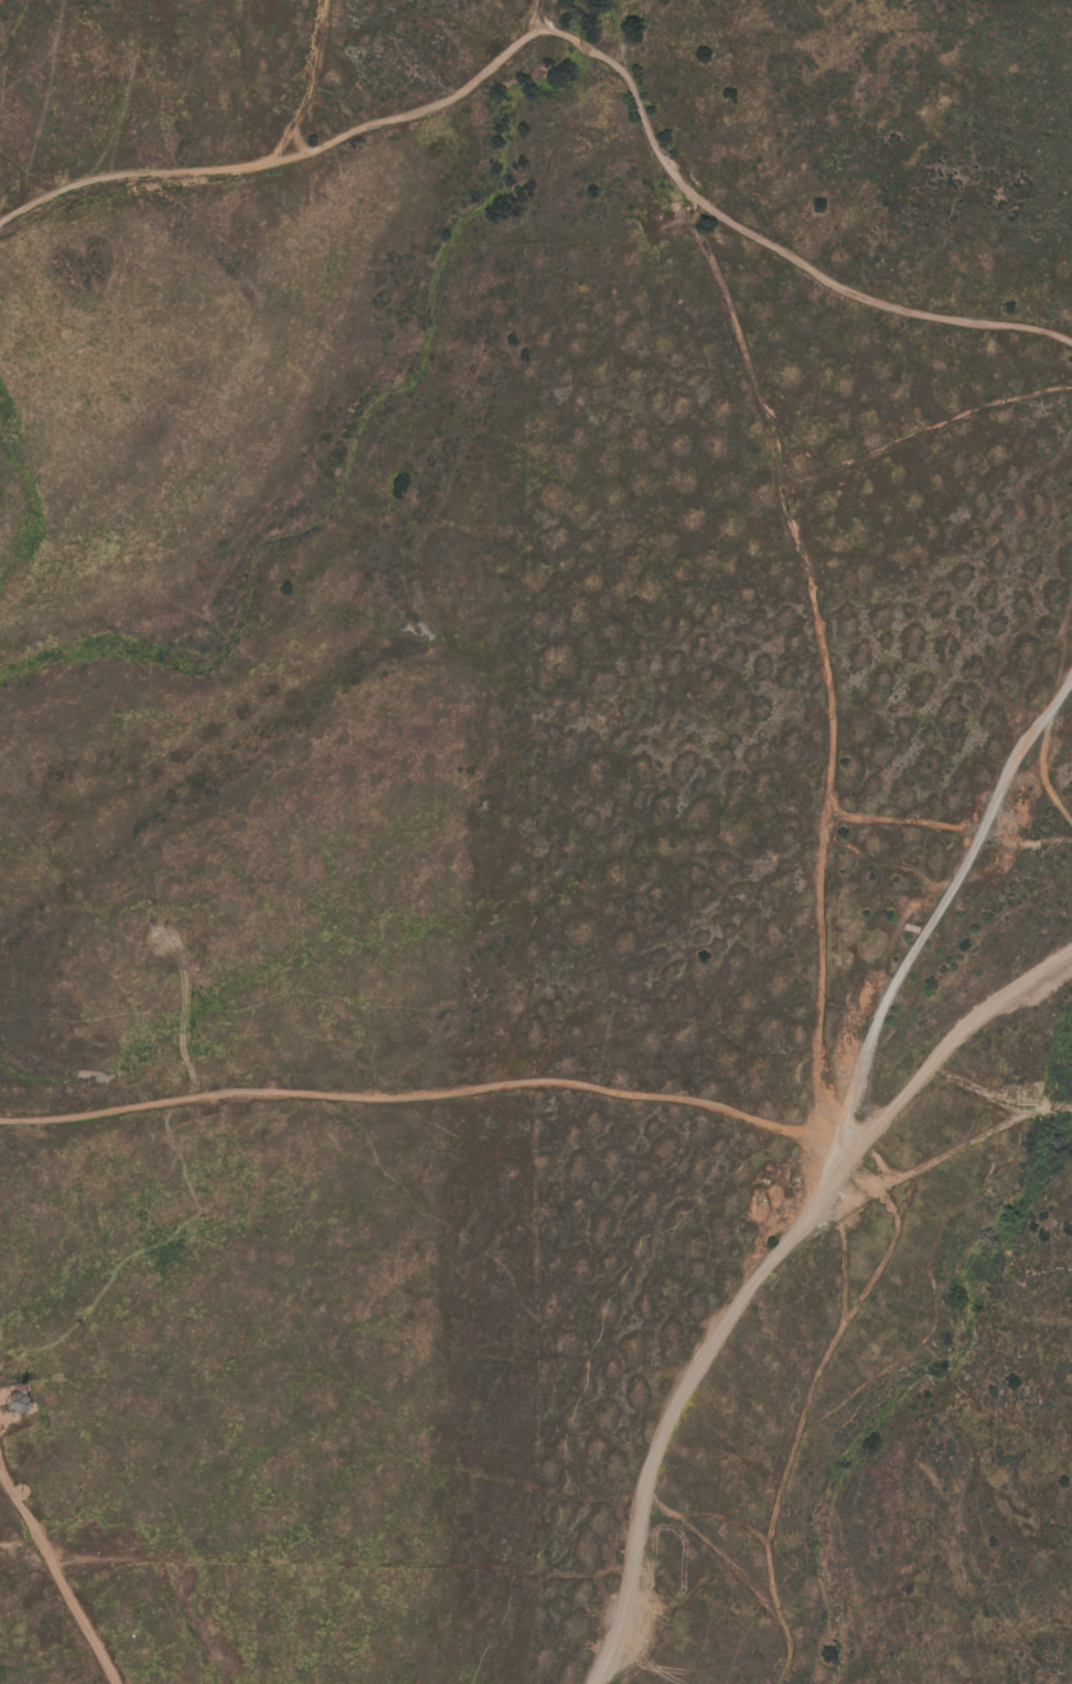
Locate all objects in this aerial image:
road: (330, 77)
road: (297, 155)
road: (25, 161)
road: (25, 204)
road: (803, 551)
road: (946, 1053)
road: (409, 1091)
road: (1001, 1095)
road: (836, 1184)
power tower: (36, 1391)
road: (54, 1575)

